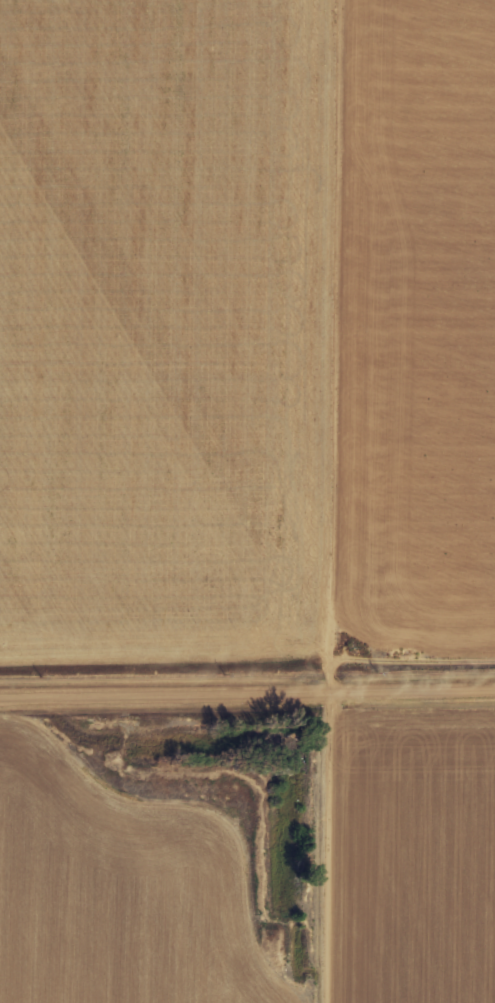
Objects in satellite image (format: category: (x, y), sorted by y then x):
road: (247, 693)

